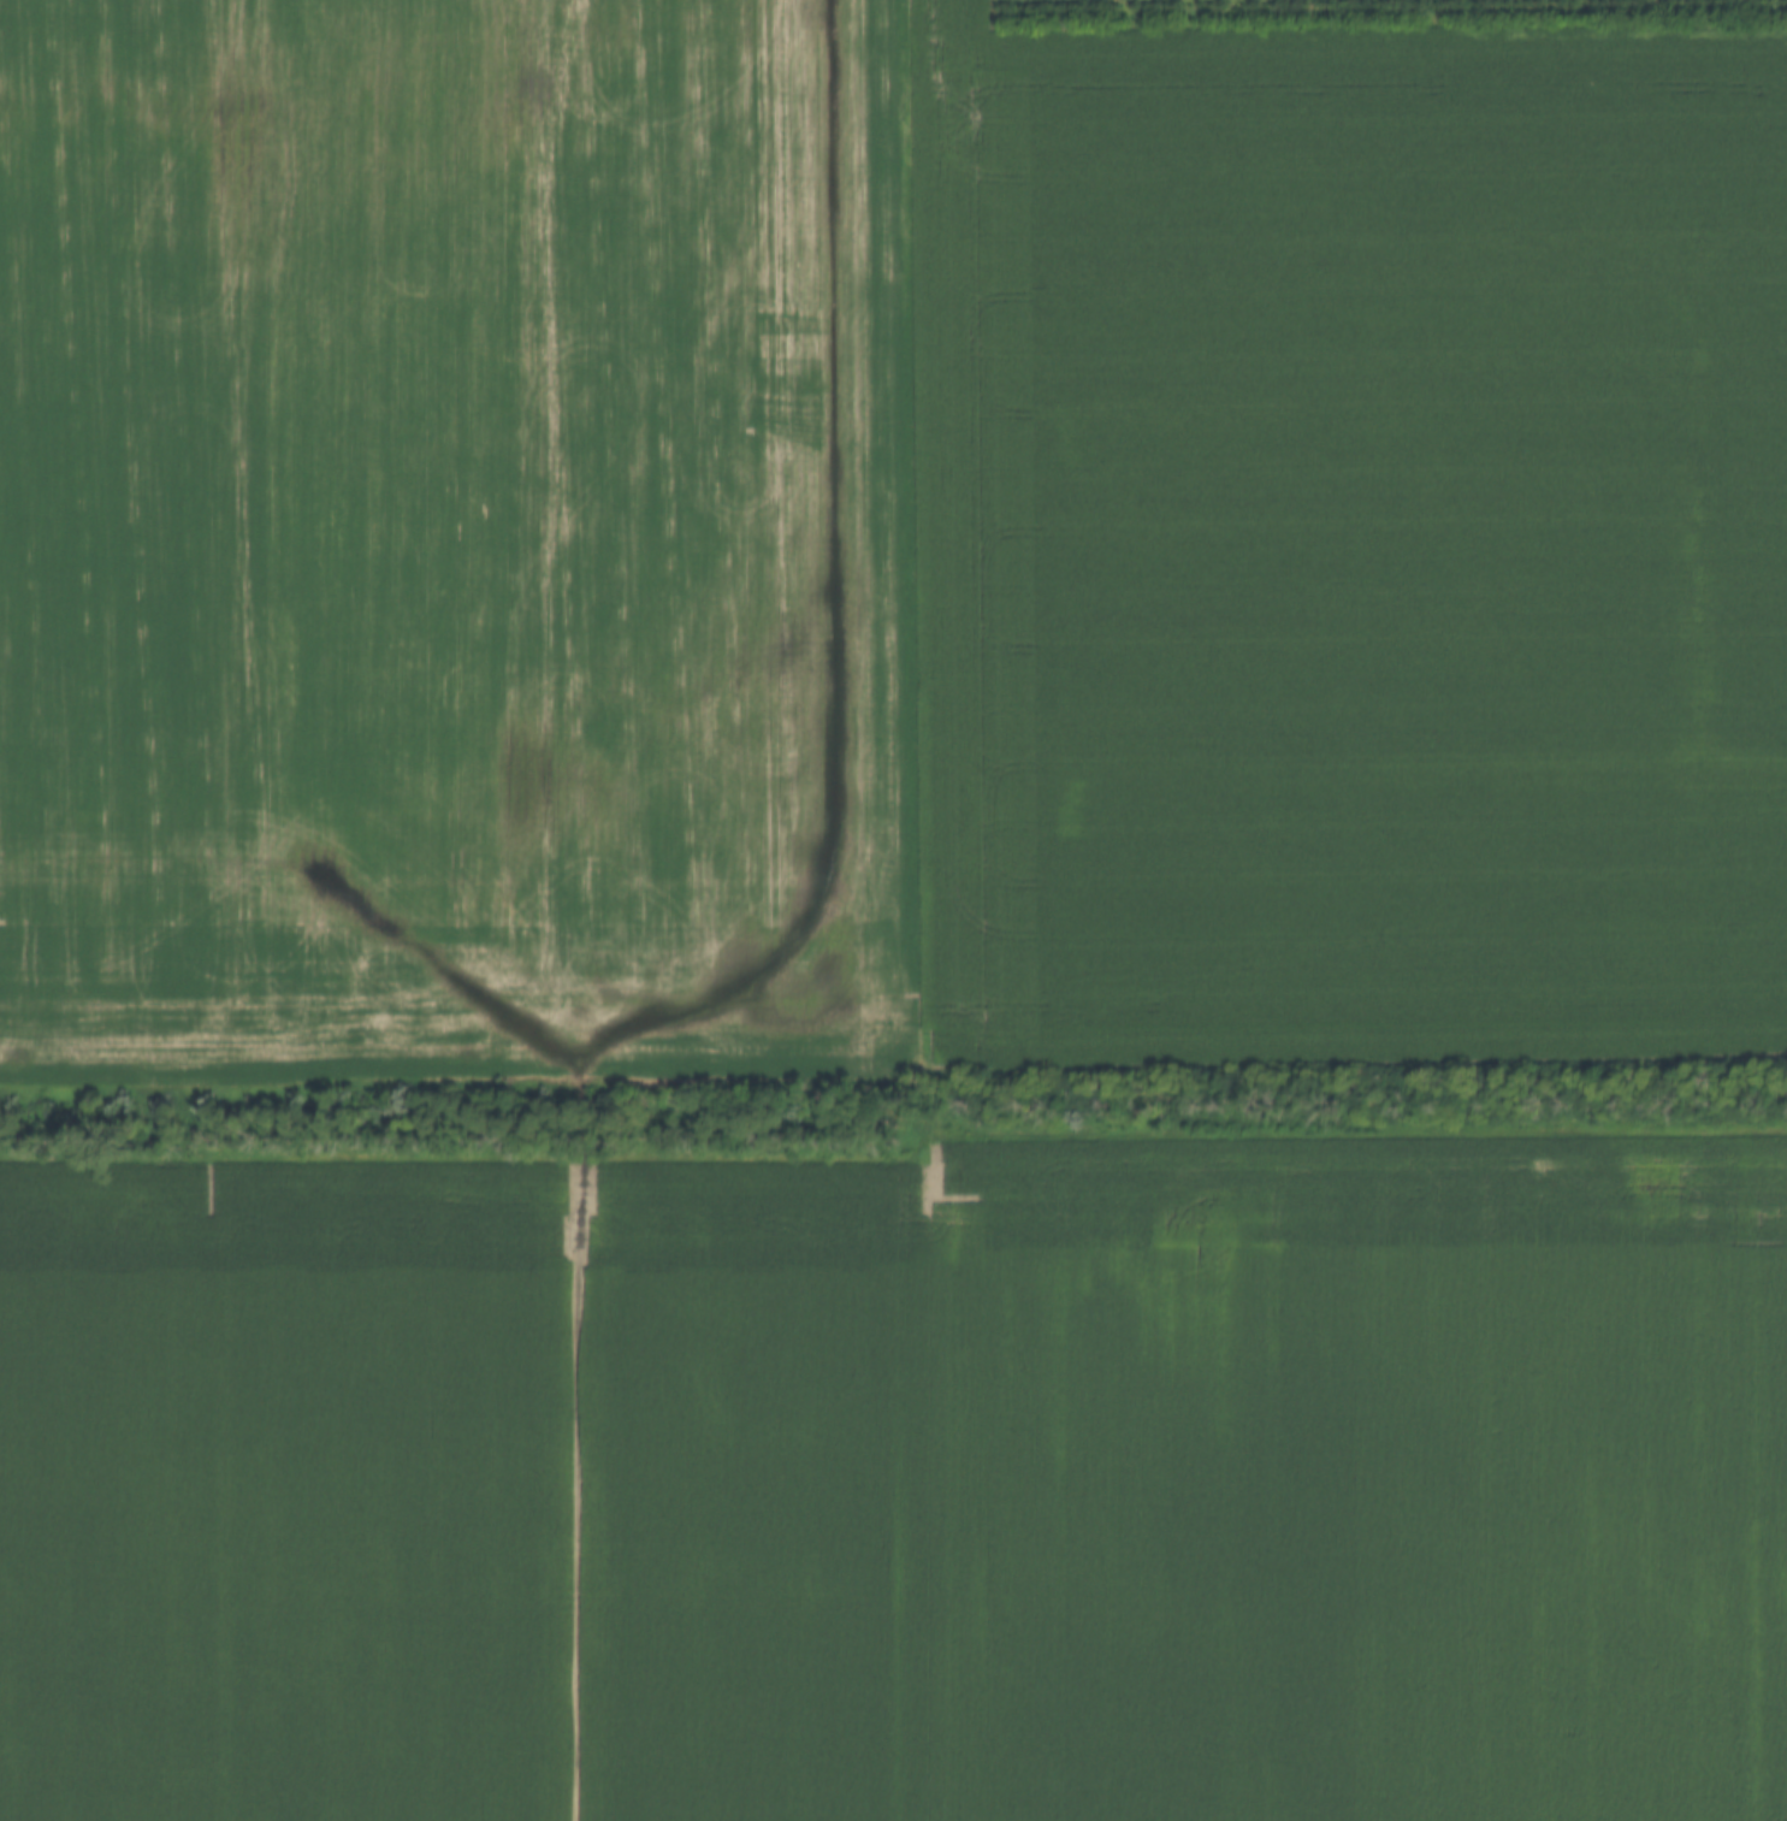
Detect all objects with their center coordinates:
road: (205, 1100)

